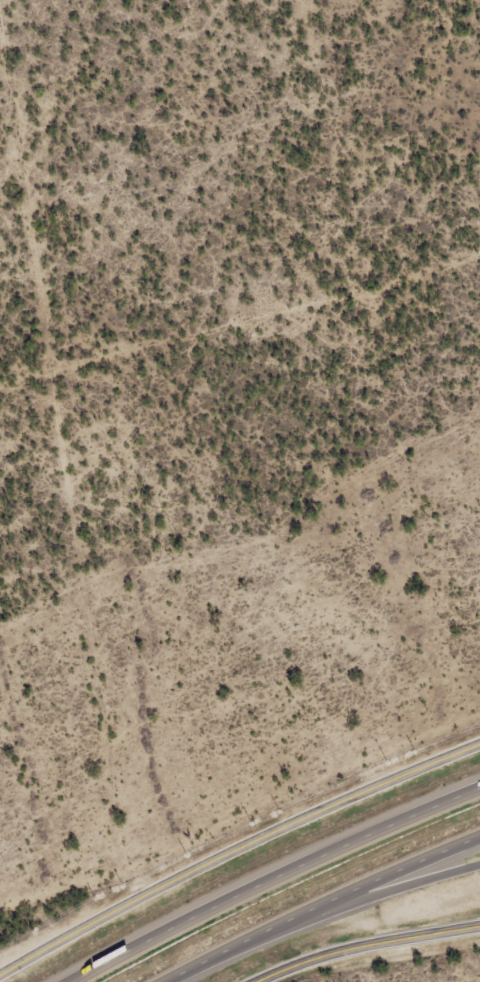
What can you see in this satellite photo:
road: (239, 854)
road: (271, 877)
road: (319, 903)
road: (334, 907)
road: (368, 945)

